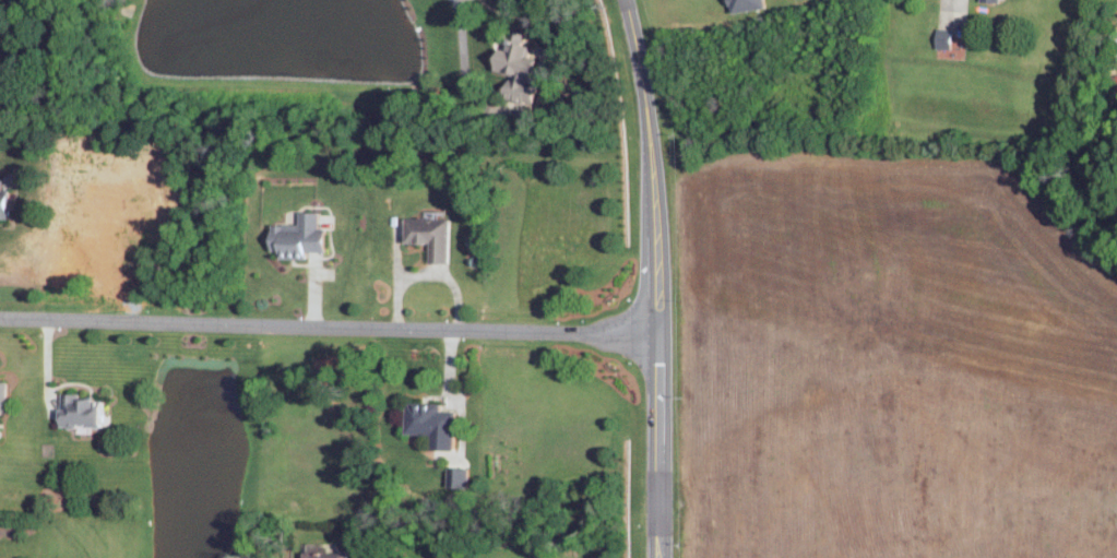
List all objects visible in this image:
building: (993, 0)
building: (750, 4)
road: (458, 35)
building: (947, 37)
building: (1116, 41)
building: (522, 71)
building: (7, 201)
building: (433, 235)
building: (302, 236)
road: (394, 254)
road: (425, 274)
road: (658, 277)
road: (330, 325)
building: (4, 397)
building: (85, 411)
building: (436, 423)
building: (329, 555)

